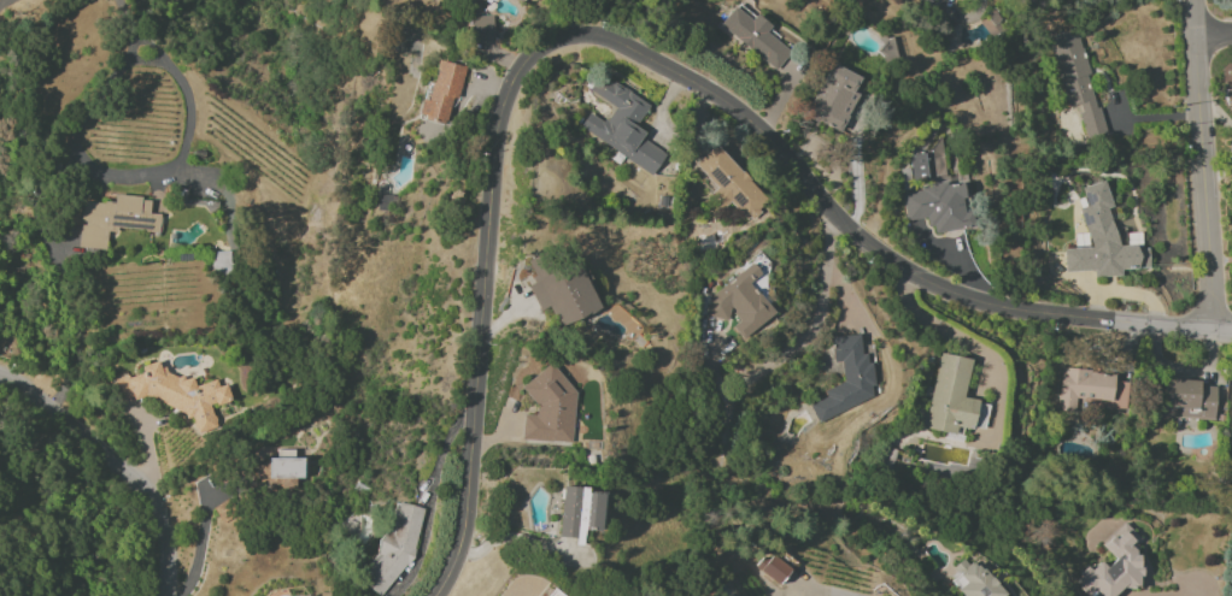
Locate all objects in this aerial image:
building: (471, 0)
building: (925, 0)
road: (964, 0)
road: (5, 2)
road: (123, 18)
building: (482, 26)
road: (1214, 35)
building: (755, 36)
building: (403, 39)
road: (639, 53)
building: (1075, 78)
building: (440, 93)
building: (833, 96)
building: (620, 124)
road: (1201, 164)
building: (914, 167)
road: (129, 176)
building: (728, 183)
building: (938, 206)
building: (113, 219)
building: (1102, 240)
building: (563, 291)
building: (739, 303)
road: (812, 323)
road: (1226, 327)
building: (847, 377)
building: (1081, 388)
building: (174, 394)
building: (950, 396)
building: (1111, 397)
building: (1186, 400)
building: (548, 409)
road: (113, 466)
building: (281, 468)
road: (433, 496)
building: (579, 512)
road: (198, 548)
building: (393, 549)
building: (1114, 565)
building: (772, 568)
building: (974, 580)
road: (817, 592)
road: (1190, 592)
building: (305, 595)

